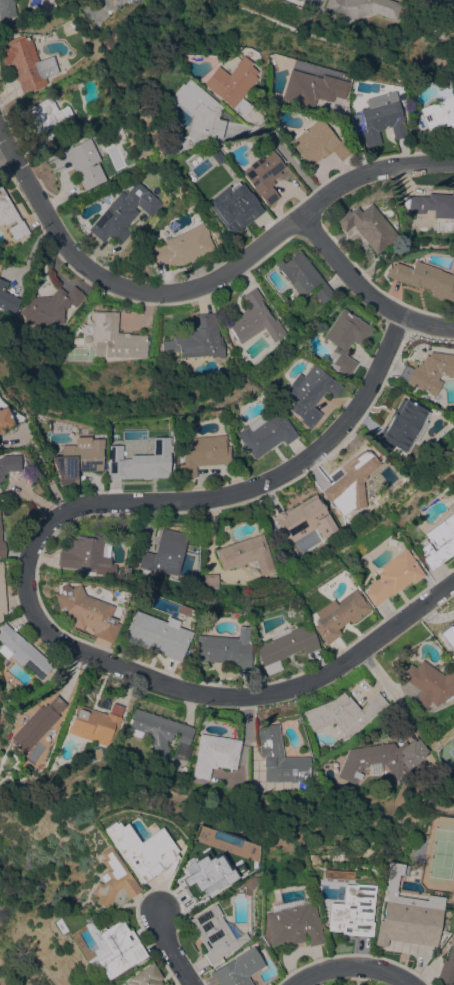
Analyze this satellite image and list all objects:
building: (298, 0)
road: (311, 0)
building: (364, 7)
building: (6, 8)
building: (349, 21)
building: (26, 63)
building: (228, 84)
building: (308, 88)
building: (439, 113)
building: (194, 114)
building: (381, 117)
building: (47, 120)
building: (317, 143)
road: (4, 154)
building: (79, 163)
road: (287, 163)
building: (262, 176)
road: (369, 176)
building: (234, 205)
building: (429, 209)
building: (123, 213)
building: (11, 216)
building: (367, 226)
building: (181, 247)
building: (303, 276)
building: (424, 279)
road: (119, 285)
road: (362, 292)
building: (7, 300)
building: (49, 306)
building: (255, 320)
building: (111, 337)
building: (197, 339)
building: (344, 340)
building: (428, 371)
building: (310, 393)
building: (3, 419)
building: (403, 424)
building: (266, 432)
building: (202, 454)
building: (76, 460)
building: (142, 462)
building: (8, 463)
building: (0, 477)
building: (351, 483)
building: (305, 518)
building: (438, 541)
building: (1, 549)
building: (165, 553)
building: (245, 554)
building: (86, 555)
building: (273, 576)
building: (391, 577)
building: (210, 580)
road: (26, 592)
building: (1, 596)
building: (86, 612)
building: (338, 615)
building: (156, 635)
building: (448, 636)
building: (284, 647)
building: (222, 651)
building: (22, 652)
building: (429, 684)
building: (343, 713)
building: (36, 724)
building: (93, 725)
building: (453, 726)
building: (161, 734)
building: (215, 754)
building: (280, 758)
building: (381, 759)
building: (142, 850)
building: (113, 882)
building: (198, 883)
building: (351, 911)
building: (405, 914)
building: (292, 925)
building: (215, 934)
building: (118, 949)
road: (171, 949)
building: (446, 962)
road: (346, 966)
building: (238, 968)
building: (145, 976)
building: (169, 984)

